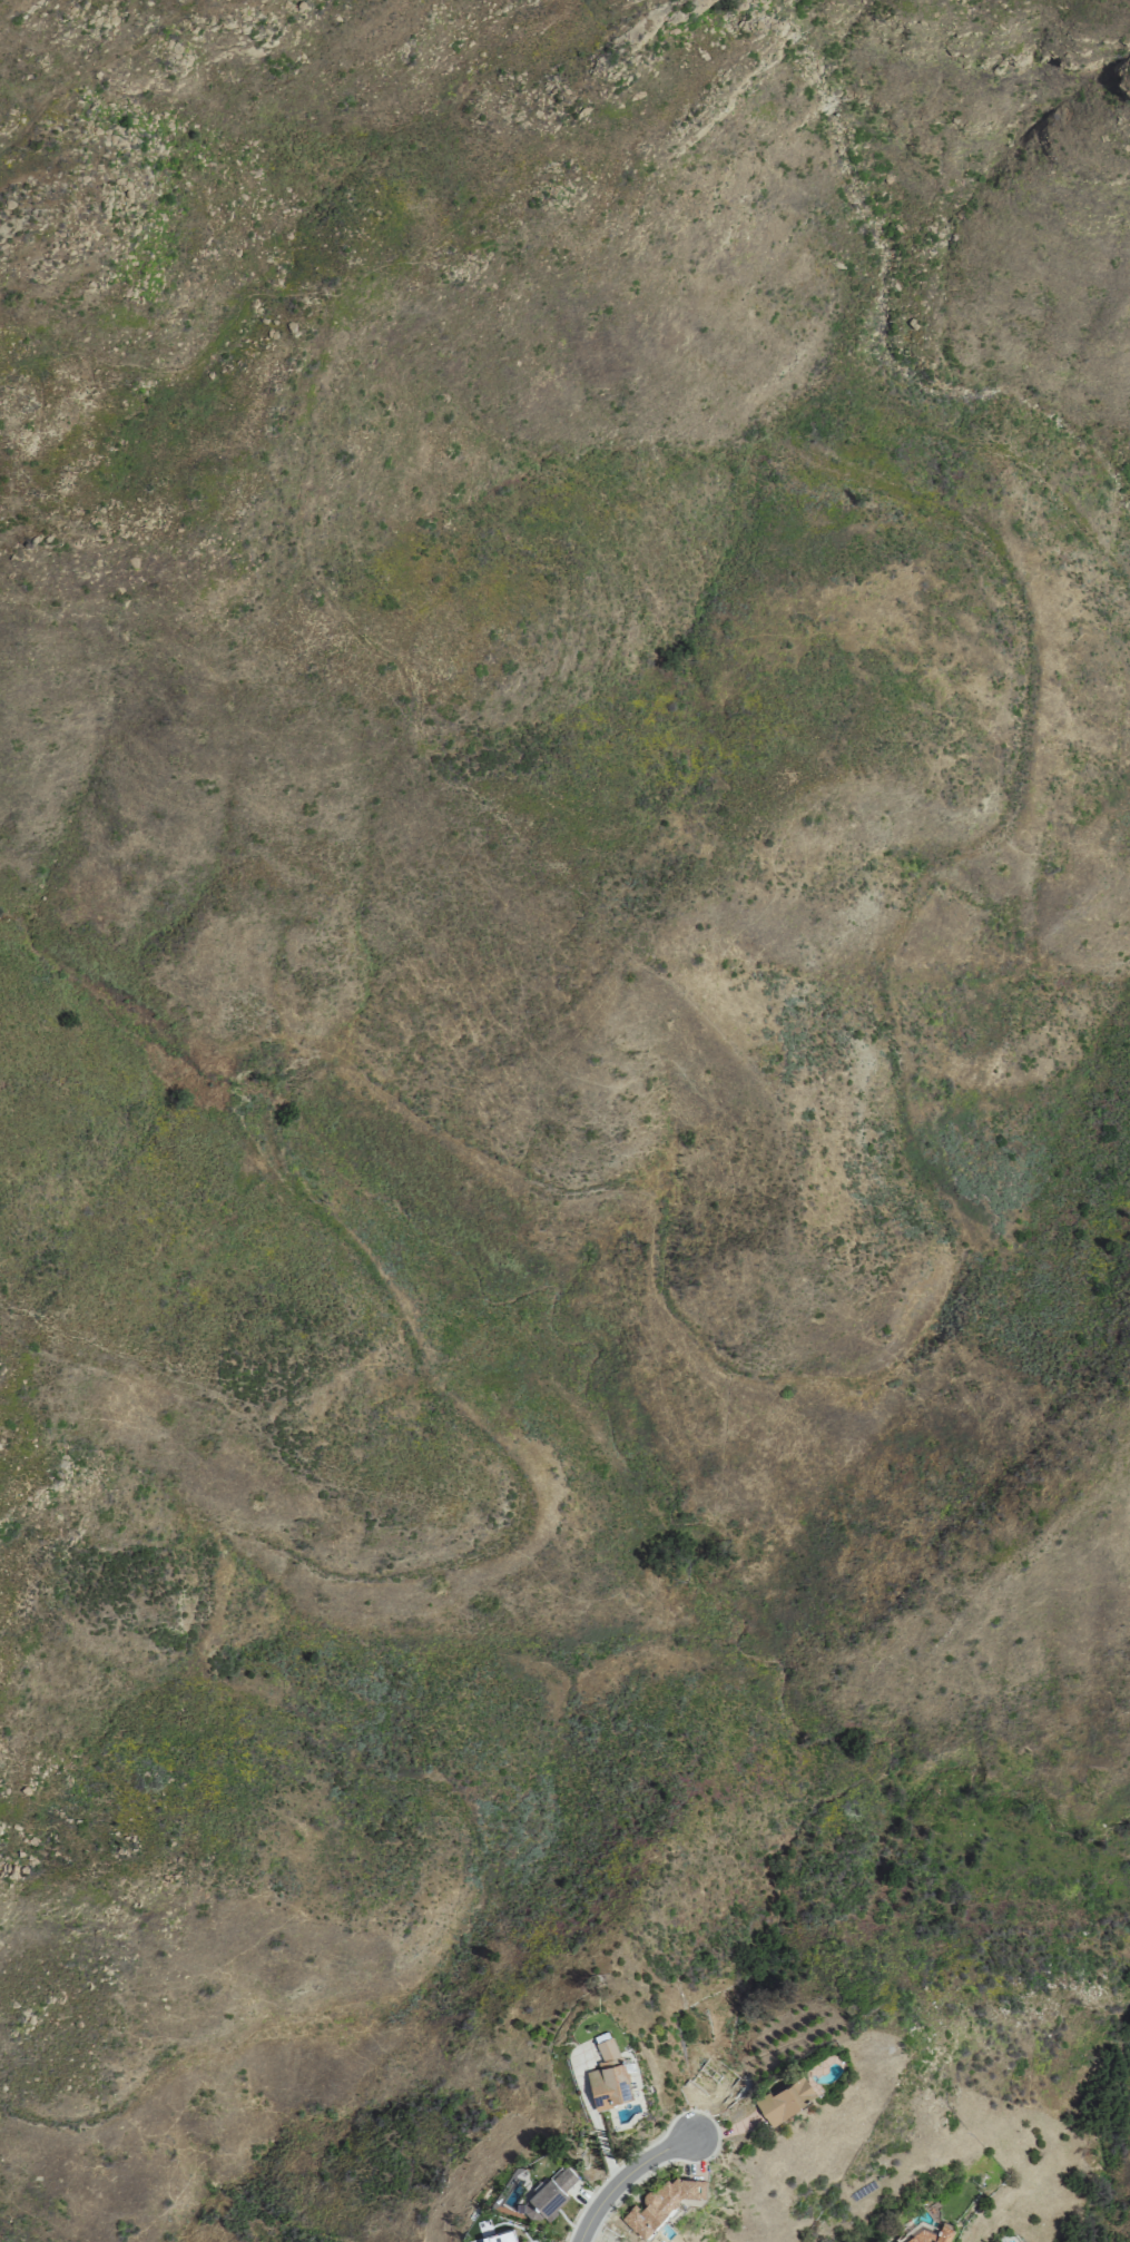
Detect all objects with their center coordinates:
road: (1019, 470)
road: (256, 1019)
building: (716, 2078)
building: (785, 2098)
road: (599, 2130)
road: (628, 2176)
building: (549, 2194)
building: (661, 2206)
building: (934, 2235)
building: (500, 2236)
building: (900, 2240)

